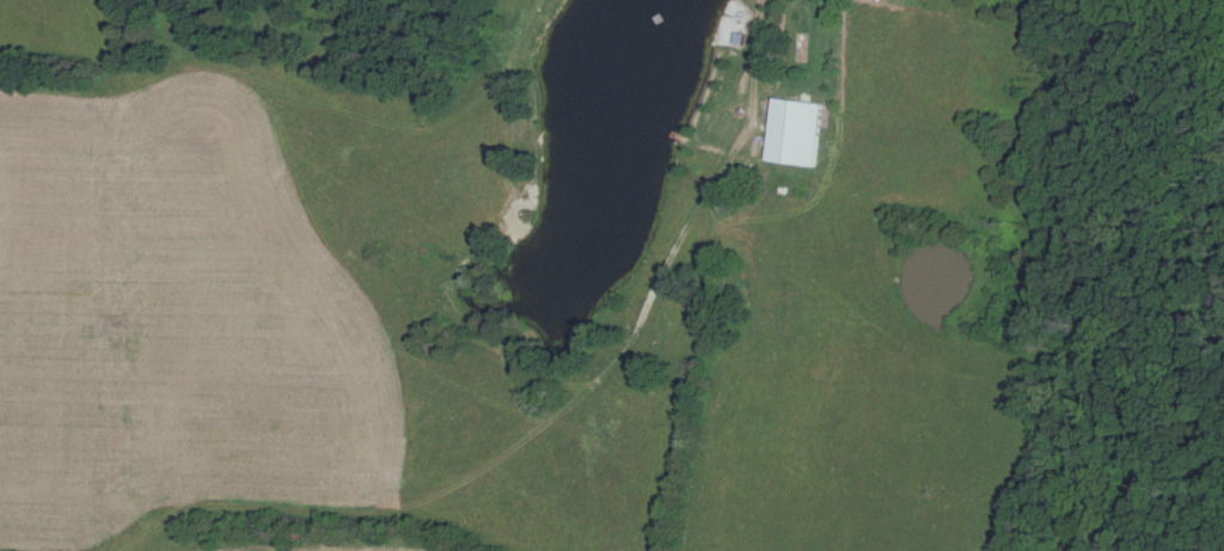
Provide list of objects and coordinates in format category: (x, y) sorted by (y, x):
road: (752, 102)
building: (792, 134)

